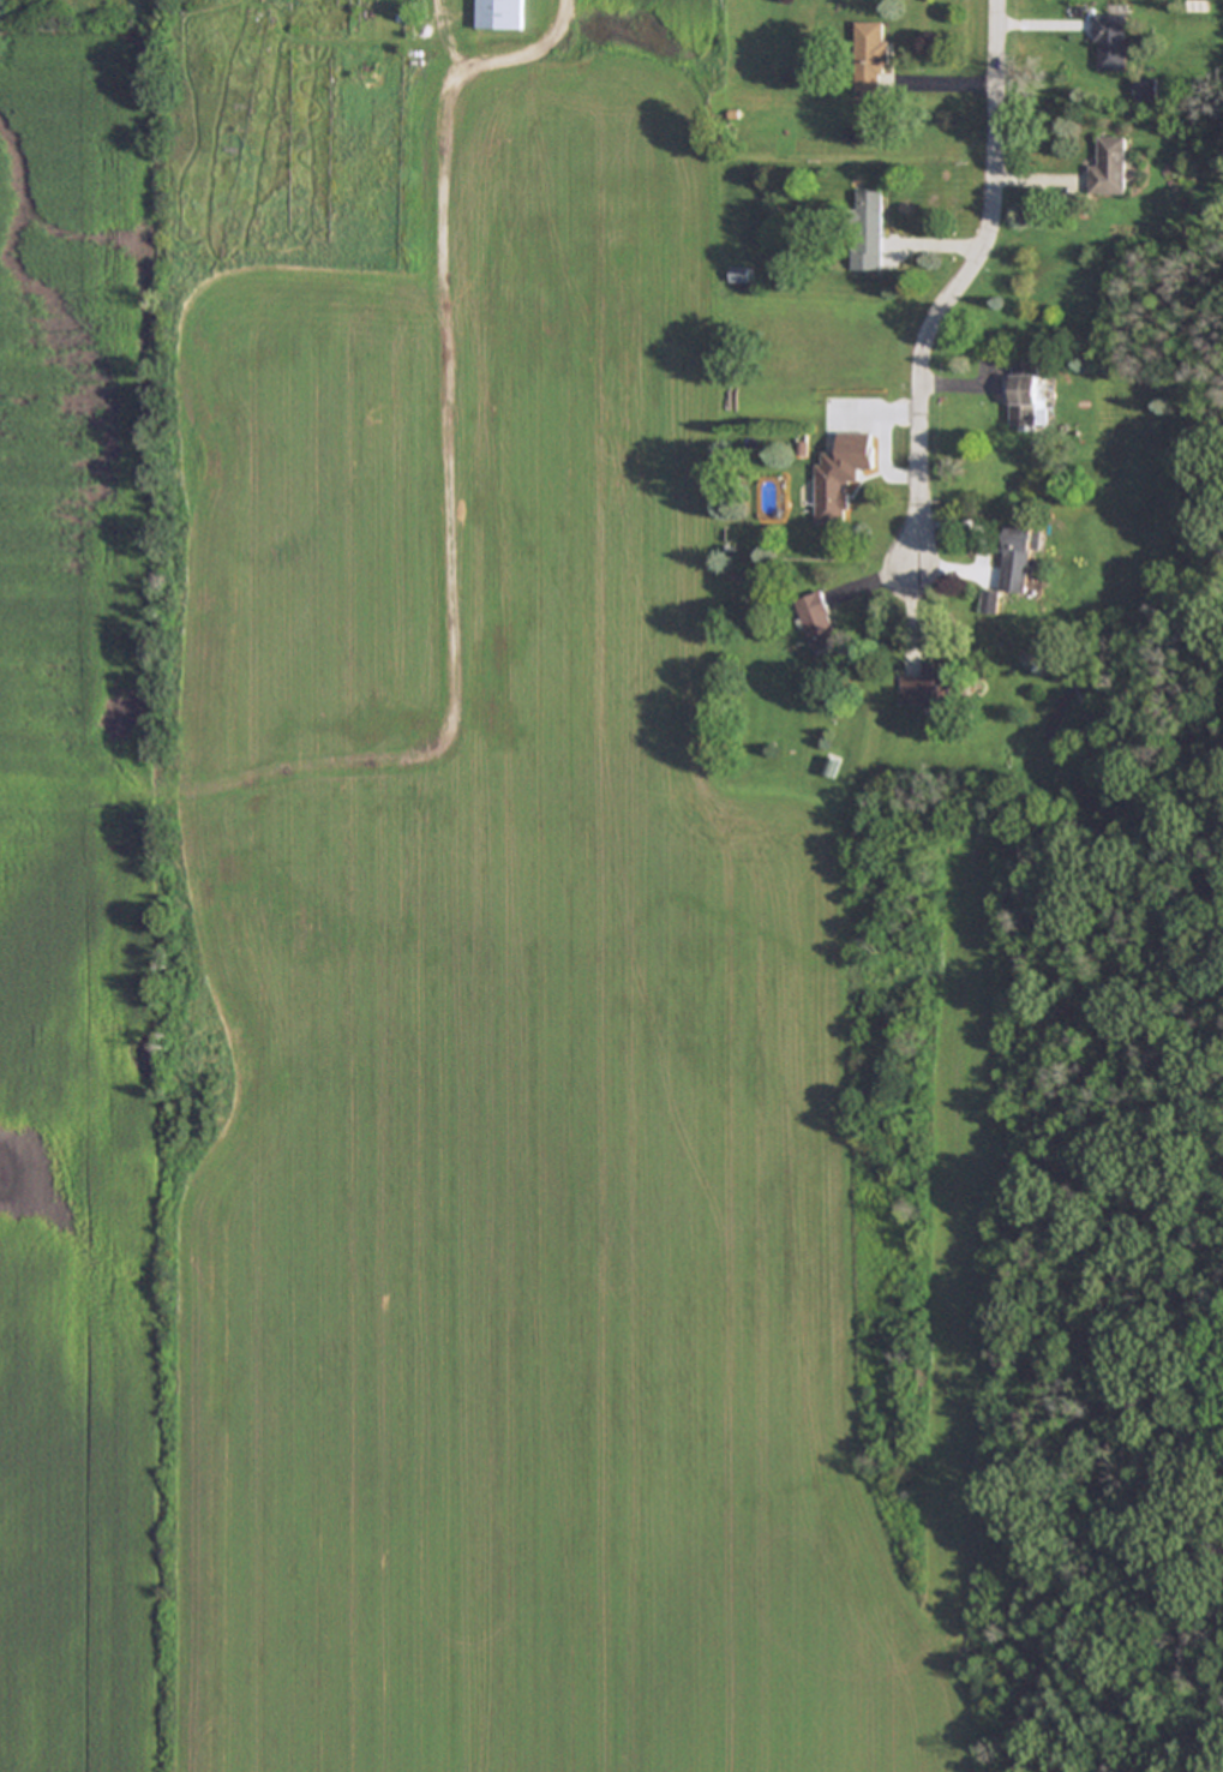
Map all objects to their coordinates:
building: (500, 14)
building: (1113, 42)
road: (522, 48)
building: (871, 54)
building: (1147, 89)
building: (1111, 167)
building: (869, 216)
building: (739, 275)
road: (970, 289)
building: (1027, 397)
building: (833, 492)
building: (1018, 556)
building: (990, 601)
building: (819, 621)
building: (928, 688)

